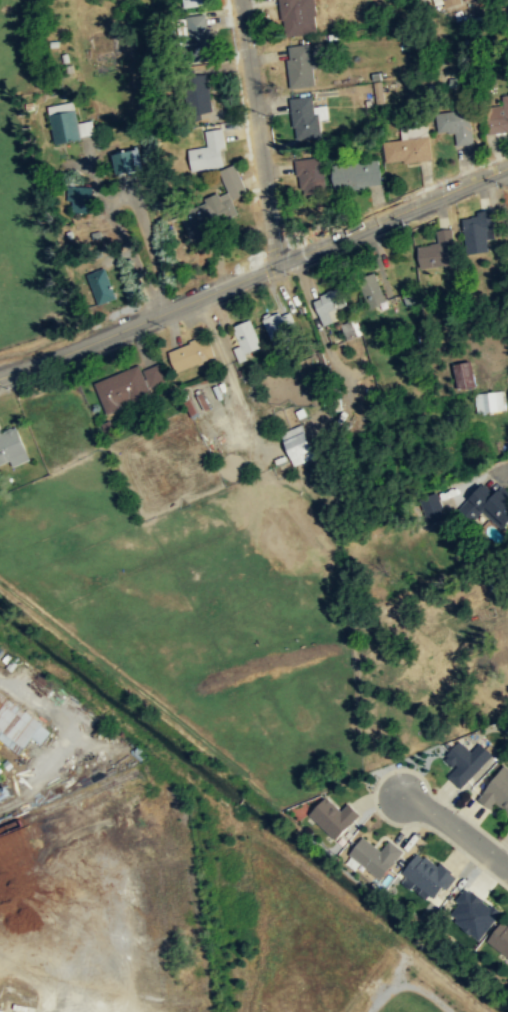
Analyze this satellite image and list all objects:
building: (448, 2)
building: (191, 3)
building: (296, 14)
building: (196, 36)
building: (301, 65)
building: (375, 92)
building: (197, 95)
building: (304, 117)
building: (496, 117)
building: (65, 125)
building: (458, 128)
road: (257, 132)
building: (407, 150)
building: (208, 153)
building: (127, 162)
building: (310, 175)
building: (356, 176)
building: (80, 201)
road: (139, 207)
building: (211, 208)
building: (477, 232)
building: (437, 252)
road: (133, 257)
road: (254, 273)
building: (101, 287)
building: (371, 292)
building: (409, 295)
building: (329, 306)
building: (276, 332)
building: (245, 340)
building: (190, 355)
building: (463, 375)
building: (128, 387)
building: (489, 401)
building: (192, 406)
building: (296, 444)
building: (12, 446)
road: (497, 472)
building: (486, 505)
crop: (203, 610)
building: (19, 727)
building: (466, 763)
building: (497, 791)
railway: (66, 801)
building: (333, 818)
road: (456, 828)
building: (375, 857)
building: (427, 875)
building: (474, 913)
building: (500, 939)
building: (371, 987)

